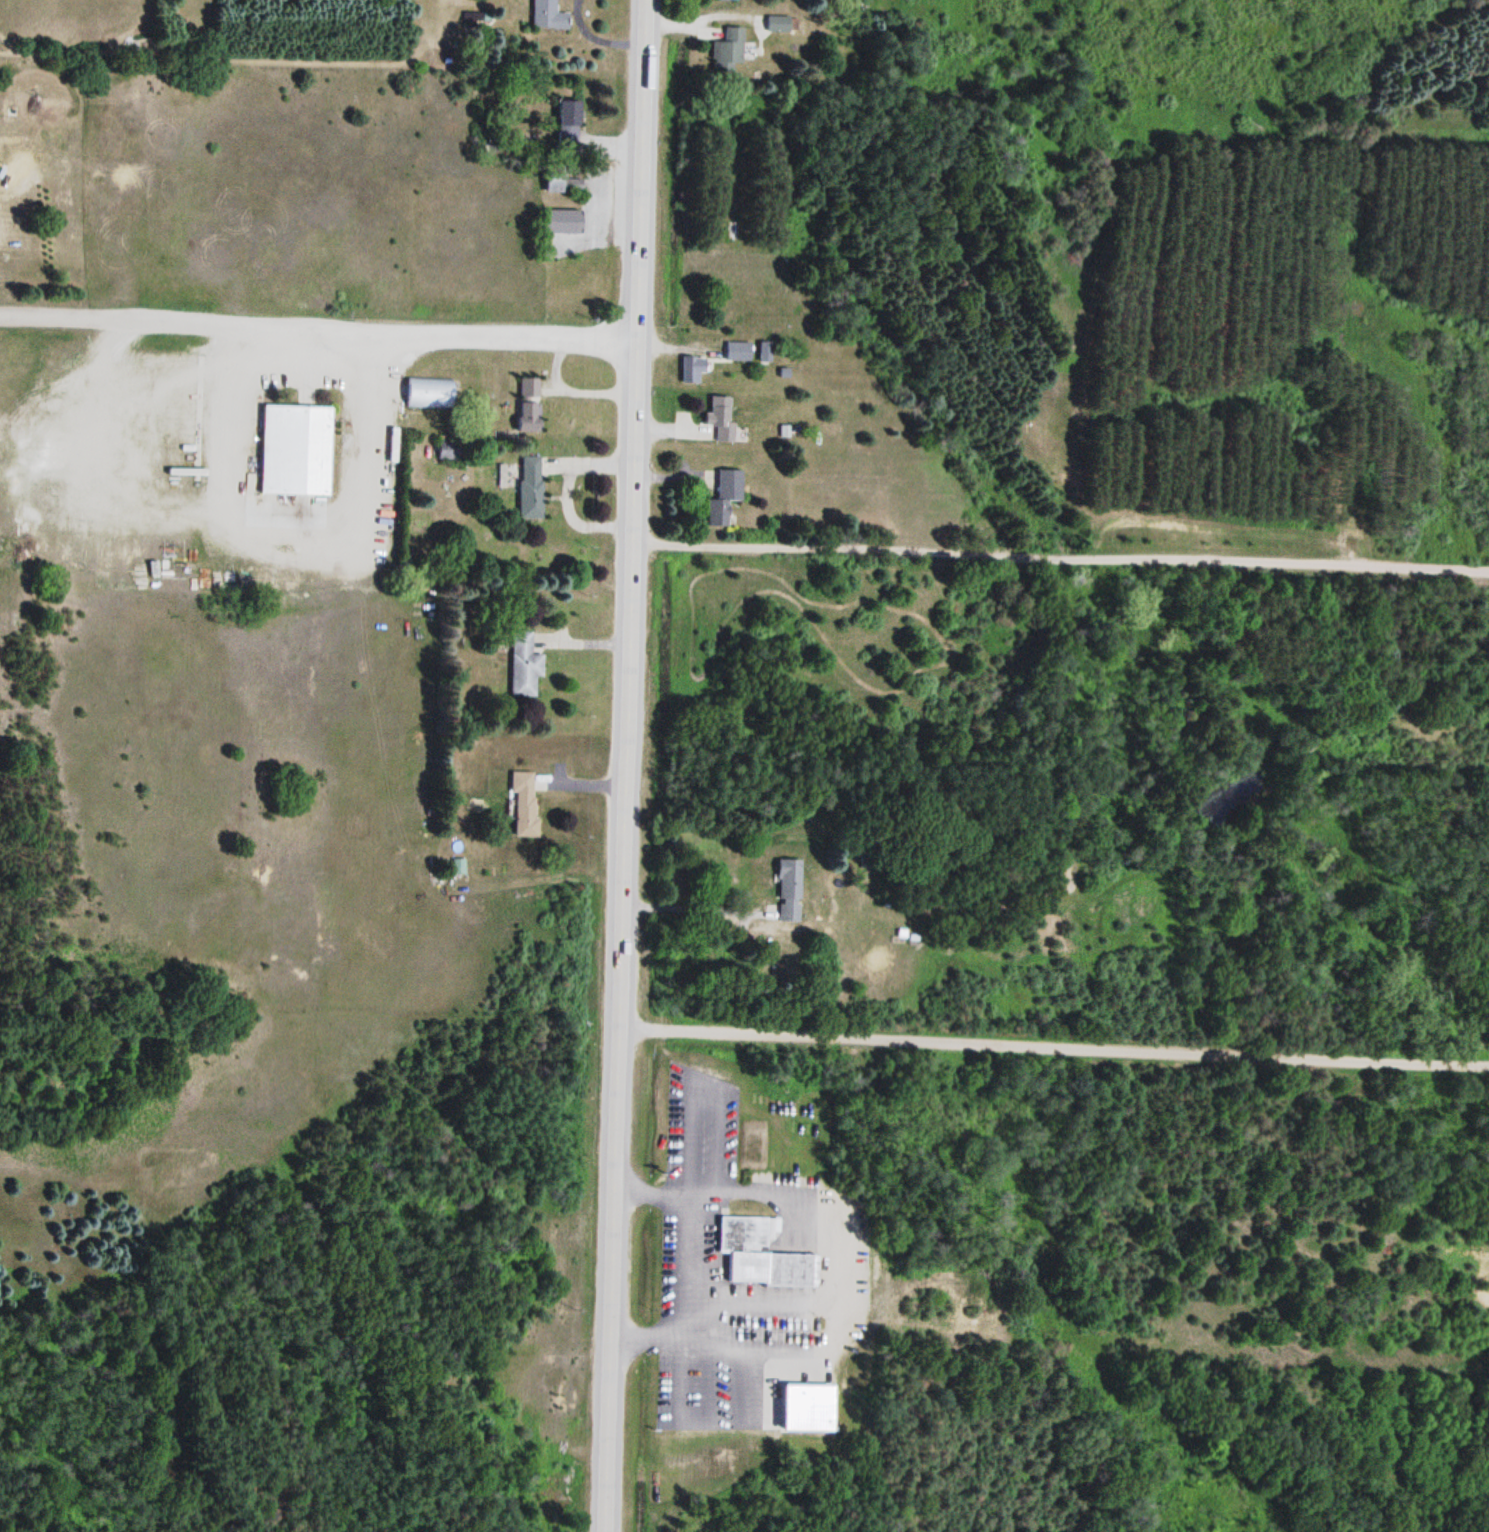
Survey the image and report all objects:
building: (550, 16)
building: (780, 24)
building: (729, 50)
building: (39, 110)
building: (561, 185)
building: (563, 221)
road: (315, 325)
building: (739, 351)
building: (765, 352)
building: (695, 370)
building: (430, 394)
building: (530, 405)
building: (721, 411)
building: (298, 450)
building: (530, 488)
building: (723, 497)
building: (524, 665)
road: (621, 765)
building: (525, 804)
building: (788, 891)
road: (1053, 1043)
building: (743, 1235)
building: (771, 1268)

